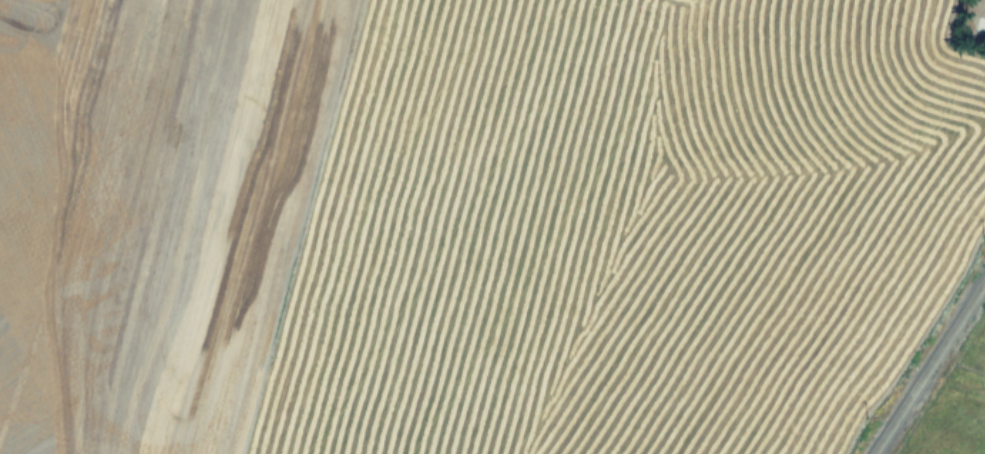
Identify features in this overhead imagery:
crop: (476, 221)
railway: (927, 365)
crop: (953, 404)

